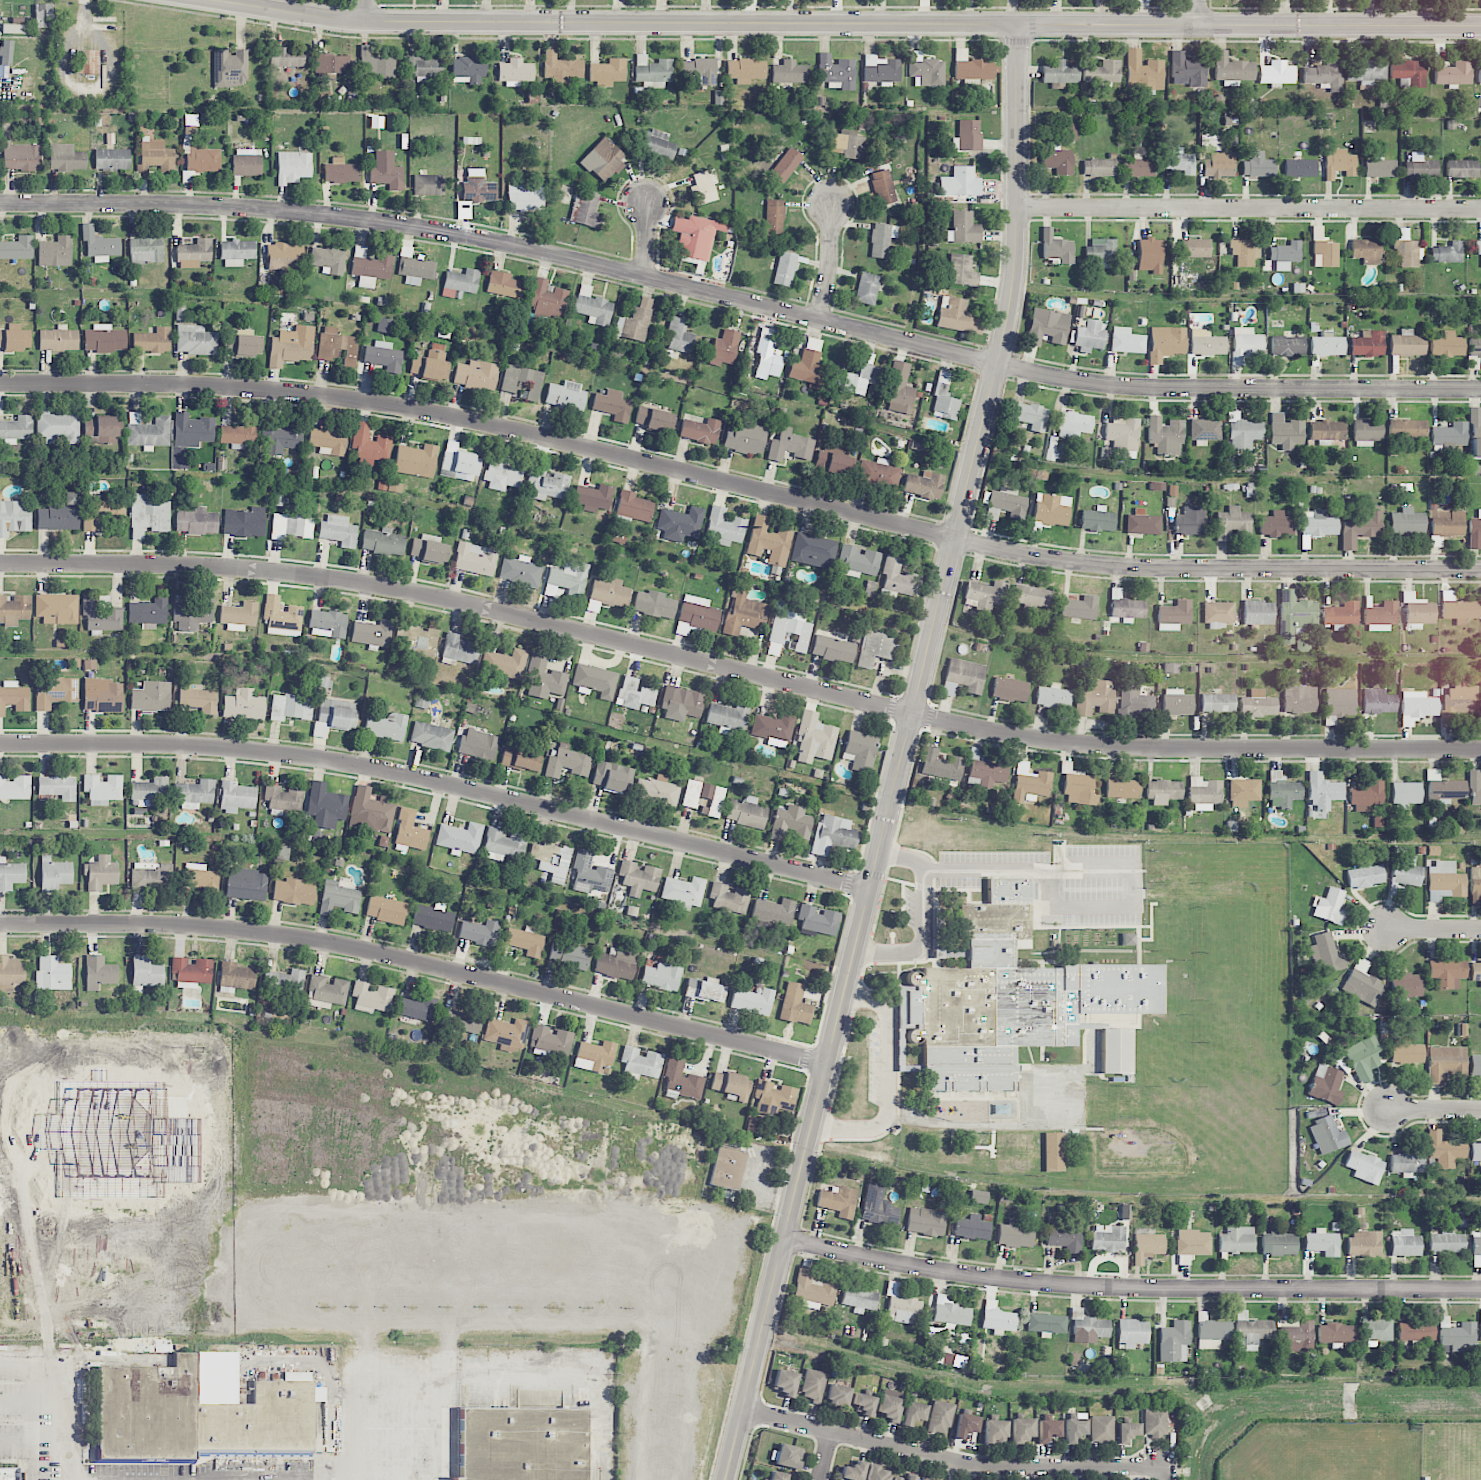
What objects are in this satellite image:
road: (362, 10)
road: (1199, 12)
building: (43, 15)
road: (616, 22)
road: (1249, 25)
building: (14, 28)
building: (286, 57)
building: (5, 58)
building: (87, 61)
building: (330, 63)
building: (376, 63)
building: (560, 66)
building: (971, 66)
building: (230, 67)
building: (424, 67)
building: (1188, 68)
building: (880, 69)
building: (1232, 69)
building: (468, 70)
building: (745, 70)
building: (1408, 70)
building: (608, 71)
building: (652, 71)
building: (836, 71)
building: (515, 72)
building: (698, 72)
building: (789, 72)
building: (927, 72)
building: (1060, 72)
building: (1276, 72)
building: (1367, 72)
building: (1143, 73)
building: (1324, 74)
building: (1453, 74)
building: (1479, 75)
building: (1478, 101)
building: (190, 119)
building: (1070, 131)
building: (968, 136)
building: (1209, 142)
building: (657, 143)
building: (849, 143)
building: (200, 156)
building: (21, 157)
building: (155, 157)
building: (66, 158)
building: (112, 159)
building: (602, 159)
building: (1057, 160)
building: (247, 161)
building: (1179, 161)
building: (1339, 162)
building: (785, 165)
building: (1218, 165)
building: (1258, 165)
building: (293, 166)
building: (1099, 166)
building: (1420, 166)
building: (1138, 167)
building: (1379, 167)
building: (1299, 168)
building: (1461, 168)
building: (386, 170)
building: (341, 171)
building: (960, 182)
building: (427, 184)
building: (882, 187)
building: (703, 188)
building: (477, 191)
building: (525, 197)
road: (1249, 208)
building: (587, 209)
building: (774, 217)
building: (964, 228)
building: (696, 235)
building: (882, 239)
road: (644, 242)
building: (99, 244)
building: (1056, 247)
building: (1195, 247)
building: (17, 248)
building: (1478, 248)
building: (145, 249)
building: (1100, 249)
building: (1366, 250)
building: (55, 251)
building: (1243, 251)
building: (237, 252)
building: (1447, 252)
building: (194, 253)
building: (1325, 253)
building: (1408, 253)
building: (1149, 254)
building: (1285, 255)
building: (284, 256)
building: (328, 260)
road: (830, 263)
building: (370, 267)
building: (785, 268)
building: (961, 270)
building: (460, 282)
building: (503, 284)
building: (867, 288)
building: (547, 300)
road: (740, 300)
building: (593, 306)
building: (956, 316)
building: (635, 321)
building: (384, 325)
building: (1047, 326)
building: (1089, 335)
building: (679, 336)
building: (58, 338)
building: (15, 339)
building: (104, 339)
building: (152, 340)
building: (195, 340)
building: (1126, 340)
building: (242, 343)
building: (1165, 343)
building: (1206, 343)
building: (1368, 343)
building: (1245, 344)
building: (1327, 344)
building: (1407, 344)
building: (291, 345)
building: (1446, 345)
building: (337, 346)
building: (1287, 346)
building: (1475, 346)
building: (724, 348)
building: (384, 356)
building: (767, 359)
building: (431, 363)
building: (809, 365)
building: (476, 374)
building: (861, 376)
building: (522, 381)
building: (900, 389)
building: (566, 396)
building: (944, 399)
building: (612, 404)
building: (1029, 415)
building: (655, 419)
building: (1074, 424)
building: (57, 426)
building: (1406, 428)
building: (16, 429)
building: (102, 429)
building: (148, 430)
building: (700, 430)
building: (1204, 430)
building: (1285, 431)
building: (1326, 431)
building: (1243, 432)
building: (1475, 432)
building: (239, 433)
building: (189, 435)
building: (1123, 435)
building: (1165, 435)
building: (1449, 436)
building: (745, 437)
building: (282, 438)
building: (328, 441)
building: (789, 445)
building: (369, 446)
building: (416, 460)
building: (830, 460)
building: (459, 463)
building: (308, 470)
building: (878, 472)
building: (501, 475)
building: (547, 484)
building: (924, 484)
road: (739, 485)
building: (593, 497)
building: (72, 498)
building: (1006, 503)
building: (633, 506)
building: (1051, 509)
building: (102, 513)
building: (148, 515)
building: (14, 517)
building: (57, 517)
building: (1097, 519)
building: (196, 521)
building: (1190, 521)
building: (1407, 521)
building: (244, 522)
building: (1446, 522)
building: (680, 523)
building: (1142, 523)
building: (1232, 523)
building: (1276, 524)
building: (1316, 525)
building: (291, 526)
building: (724, 526)
building: (1360, 527)
building: (338, 530)
building: (1475, 531)
building: (768, 541)
building: (383, 542)
building: (430, 550)
building: (813, 551)
building: (475, 559)
building: (857, 561)
building: (520, 571)
building: (567, 579)
building: (897, 579)
building: (610, 592)
building: (984, 595)
building: (1031, 595)
building: (654, 604)
building: (1079, 607)
building: (14, 608)
building: (57, 608)
building: (1125, 608)
building: (1417, 610)
building: (1258, 612)
building: (101, 613)
building: (148, 613)
building: (744, 613)
building: (191, 614)
building: (1218, 614)
building: (238, 615)
building: (696, 615)
building: (1174, 615)
building: (1296, 615)
building: (1341, 615)
building: (1381, 616)
building: (281, 617)
building: (327, 624)
building: (372, 632)
building: (788, 632)
building: (833, 648)
building: (875, 648)
building: (459, 650)
building: (1171, 667)
road: (739, 672)
building: (963, 676)
building: (544, 678)
building: (595, 680)
building: (1010, 689)
building: (56, 692)
building: (634, 693)
building: (102, 695)
building: (151, 696)
building: (1052, 696)
building: (14, 697)
building: (198, 699)
building: (421, 699)
building: (1095, 699)
building: (1299, 699)
building: (1458, 700)
building: (1378, 701)
building: (1131, 702)
building: (1176, 702)
building: (1339, 702)
building: (681, 703)
building: (1217, 703)
building: (1258, 704)
building: (243, 705)
building: (1417, 706)
building: (290, 707)
building: (727, 717)
building: (335, 718)
building: (385, 726)
building: (773, 729)
building: (431, 735)
building: (814, 739)
building: (478, 744)
building: (860, 750)
road: (901, 755)
building: (521, 760)
building: (566, 762)
building: (943, 767)
building: (987, 772)
building: (609, 779)
road: (439, 782)
building: (1029, 782)
building: (57, 786)
building: (15, 787)
building: (1474, 787)
building: (1079, 788)
building: (1122, 788)
building: (1443, 788)
building: (102, 789)
building: (657, 790)
building: (1283, 790)
building: (147, 791)
building: (1164, 791)
building: (1243, 792)
building: (1323, 792)
building: (194, 793)
building: (1204, 793)
building: (1405, 794)
building: (1366, 795)
building: (236, 796)
building: (283, 797)
building: (703, 797)
building: (328, 807)
building: (372, 808)
building: (746, 812)
building: (789, 823)
building: (409, 830)
building: (833, 834)
building: (460, 838)
building: (503, 844)
building: (282, 851)
building: (552, 859)
road: (1073, 870)
building: (1406, 871)
building: (100, 872)
building: (11, 874)
building: (54, 874)
building: (589, 874)
building: (1365, 875)
building: (151, 876)
building: (200, 877)
building: (638, 877)
building: (246, 884)
building: (1475, 885)
building: (293, 891)
building: (684, 891)
building: (338, 897)
building: (729, 898)
building: (1329, 906)
building: (386, 909)
building: (772, 911)
building: (433, 917)
building: (817, 920)
road: (1435, 931)
building: (479, 932)
building: (1128, 939)
building: (526, 941)
road: (921, 942)
building: (1326, 954)
building: (568, 955)
road: (417, 962)
building: (616, 963)
building: (1476, 971)
building: (99, 972)
building: (1447, 972)
building: (52, 973)
building: (145, 973)
building: (11, 974)
building: (661, 976)
building: (284, 981)
building: (1362, 983)
building: (1406, 985)
building: (705, 990)
building: (327, 991)
building: (371, 997)
building: (1013, 998)
road: (871, 999)
building: (752, 1001)
building: (795, 1004)
building: (908, 1007)
building: (416, 1008)
building: (459, 1020)
building: (506, 1032)
building: (550, 1039)
building: (1115, 1051)
building: (1406, 1051)
building: (595, 1056)
building: (1363, 1057)
building: (1446, 1062)
building: (640, 1063)
road: (888, 1065)
building: (1475, 1065)
building: (681, 1081)
building: (1325, 1084)
building: (731, 1085)
building: (773, 1097)
road: (1434, 1111)
road: (853, 1129)
building: (1327, 1135)
building: (1444, 1149)
building: (1053, 1151)
building: (1475, 1151)
building: (1406, 1163)
building: (1365, 1166)
building: (727, 1167)
building: (838, 1200)
building: (879, 1212)
building: (925, 1221)
building: (972, 1227)
building: (1014, 1234)
building: (1063, 1236)
building: (1108, 1238)
building: (1237, 1239)
building: (1447, 1241)
building: (1193, 1242)
building: (1278, 1242)
building: (1322, 1242)
building: (1405, 1242)
building: (1364, 1243)
building: (1147, 1246)
building: (1476, 1249)
road: (1130, 1287)
building: (813, 1290)
building: (859, 1298)
building: (902, 1307)
building: (950, 1312)
building: (997, 1318)
building: (1046, 1323)
building: (1480, 1326)
building: (1088, 1327)
building: (1416, 1330)
building: (1211, 1331)
building: (1251, 1331)
building: (1376, 1331)
building: (1132, 1333)
building: (1335, 1334)
building: (1456, 1335)
building: (1296, 1337)
building: (1174, 1341)
building: (297, 1376)
building: (785, 1382)
building: (812, 1385)
building: (837, 1396)
building: (863, 1403)
road: (40, 1406)
building: (889, 1407)
building: (147, 1411)
road: (394, 1412)
building: (913, 1413)
building: (940, 1417)
building: (259, 1421)
building: (1154, 1422)
building: (966, 1424)
building: (1101, 1428)
building: (1021, 1429)
building: (1048, 1429)
building: (1074, 1429)
building: (995, 1430)
building: (1126, 1431)
road: (393, 1442)
building: (522, 1443)
road: (435, 1445)
road: (350, 1453)
road: (825, 1456)
road: (952, 1461)
building: (853, 1471)
building: (877, 1473)
building: (9, 1474)
road: (1168, 1474)
building: (778, 1476)
building: (910, 1476)
building: (927, 1478)

